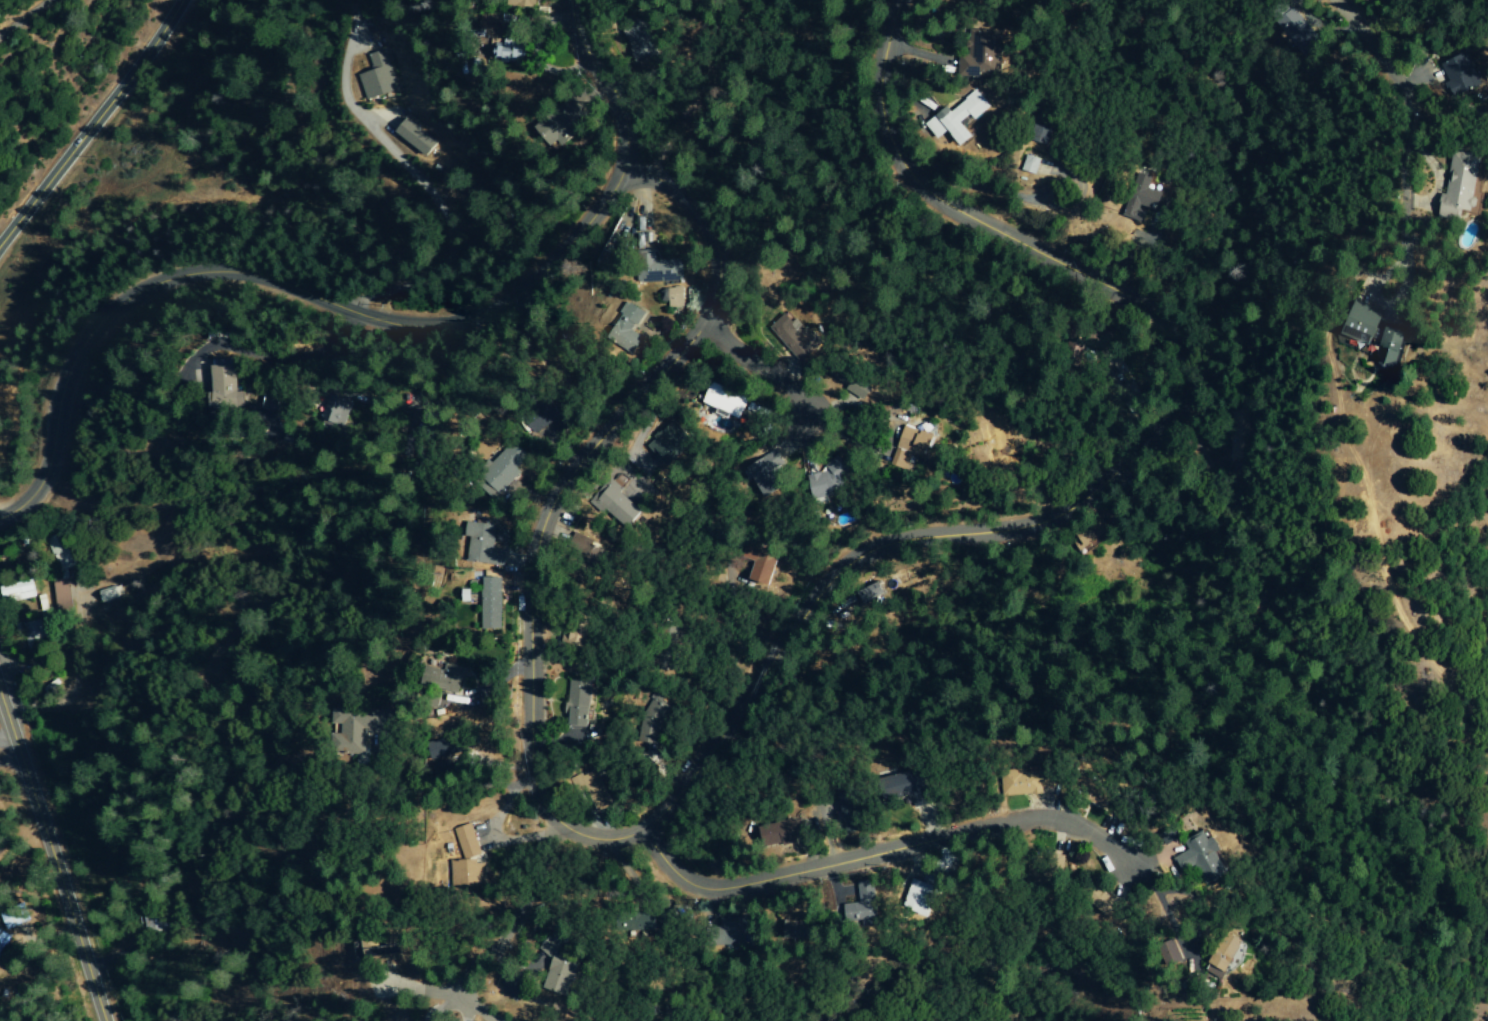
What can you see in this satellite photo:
building: (966, 0)
building: (529, 3)
road: (26, 18)
building: (1297, 34)
building: (521, 49)
road: (1369, 49)
building: (978, 62)
building: (1465, 74)
building: (378, 77)
road: (608, 80)
building: (956, 118)
road: (383, 119)
road: (92, 123)
building: (562, 128)
building: (1043, 132)
building: (415, 138)
road: (1420, 157)
building: (1030, 164)
road: (414, 175)
building: (1470, 187)
building: (1140, 199)
road: (645, 201)
road: (1398, 206)
building: (656, 265)
road: (278, 287)
building: (674, 297)
building: (632, 326)
building: (1367, 326)
building: (793, 340)
building: (1397, 350)
road: (273, 358)
road: (765, 370)
building: (859, 386)
building: (227, 389)
building: (722, 397)
building: (338, 410)
building: (553, 417)
building: (1234, 435)
building: (911, 445)
building: (507, 461)
building: (767, 472)
road: (536, 492)
building: (621, 505)
building: (481, 541)
building: (762, 566)
building: (17, 592)
building: (109, 593)
building: (69, 596)
building: (490, 601)
building: (34, 634)
road: (771, 657)
building: (445, 676)
building: (575, 701)
building: (359, 726)
road: (6, 742)
building: (443, 747)
building: (907, 785)
building: (856, 811)
building: (786, 833)
building: (467, 842)
road: (877, 855)
building: (1210, 859)
road: (51, 861)
building: (469, 874)
building: (928, 894)
building: (869, 907)
building: (15, 916)
building: (645, 922)
building: (803, 930)
building: (738, 931)
road: (503, 932)
building: (4, 941)
road: (1178, 949)
building: (374, 952)
building: (1232, 957)
road: (108, 959)
building: (561, 978)
road: (512, 983)
road: (422, 993)
road: (443, 1008)
road: (466, 1014)

